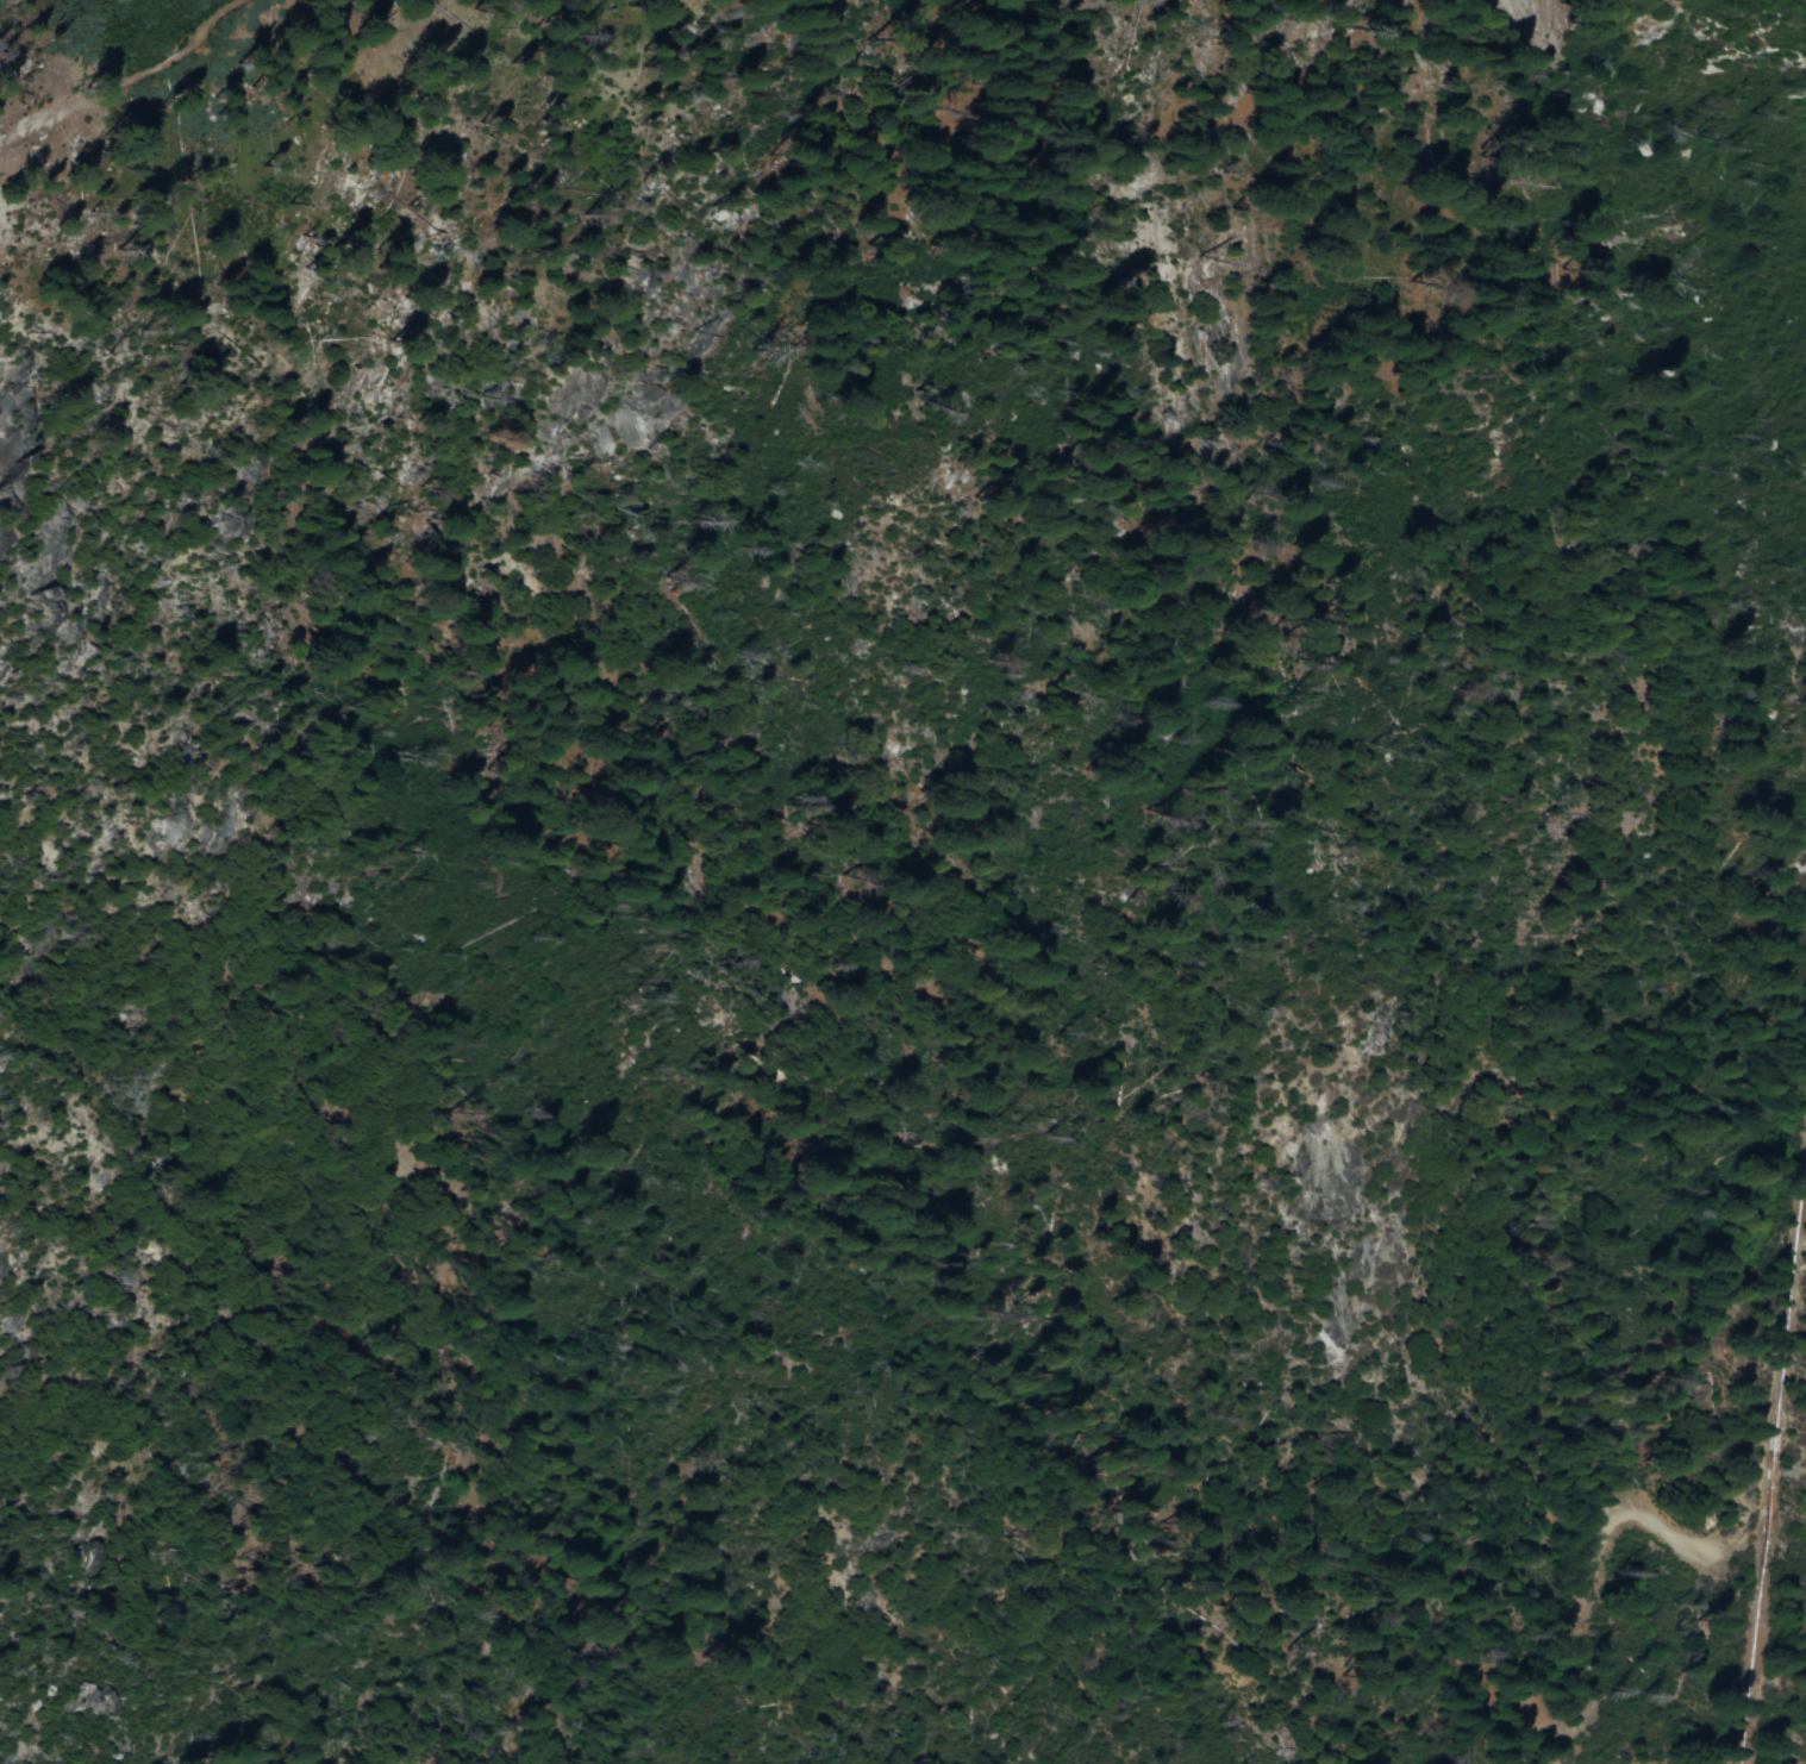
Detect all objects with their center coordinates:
road: (136, 73)

